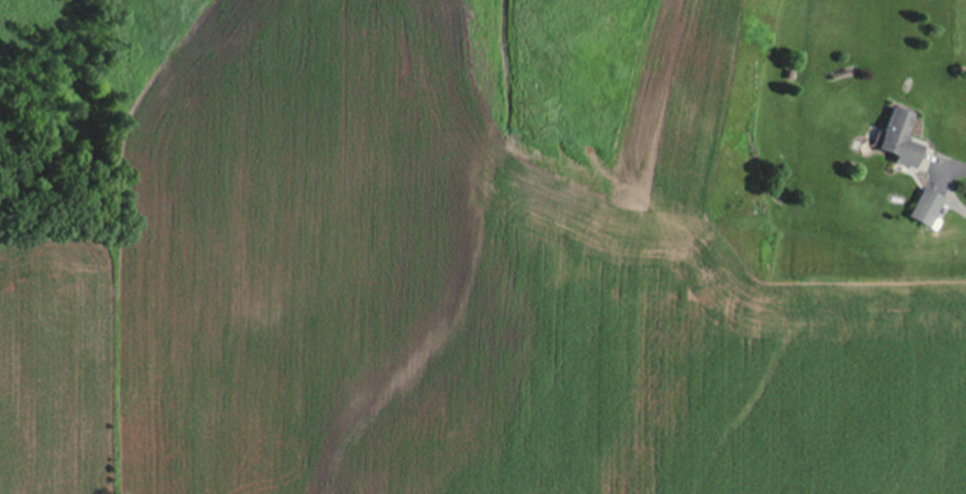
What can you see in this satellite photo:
building: (904, 138)
road: (943, 182)
building: (955, 184)
building: (928, 206)

